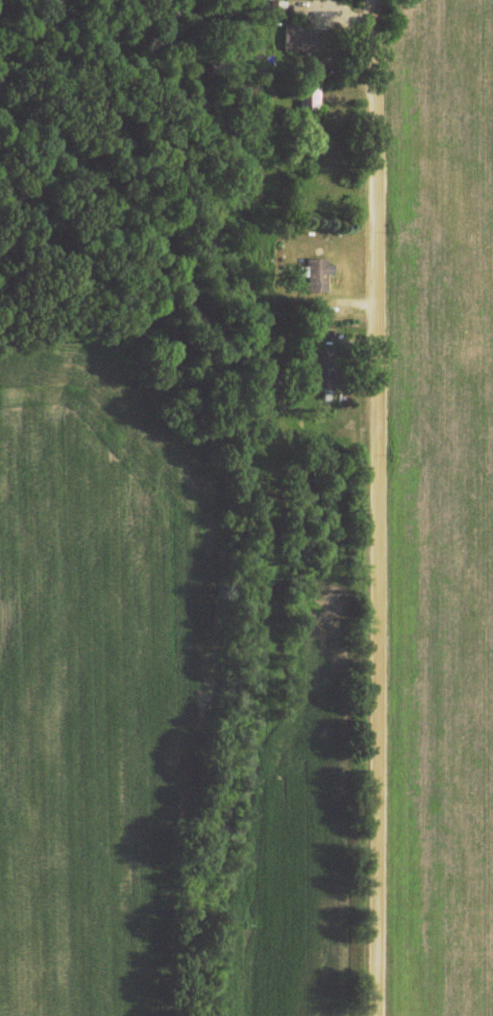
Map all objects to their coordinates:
building: (300, 39)
building: (309, 98)
building: (318, 275)
building: (325, 369)
road: (385, 507)

